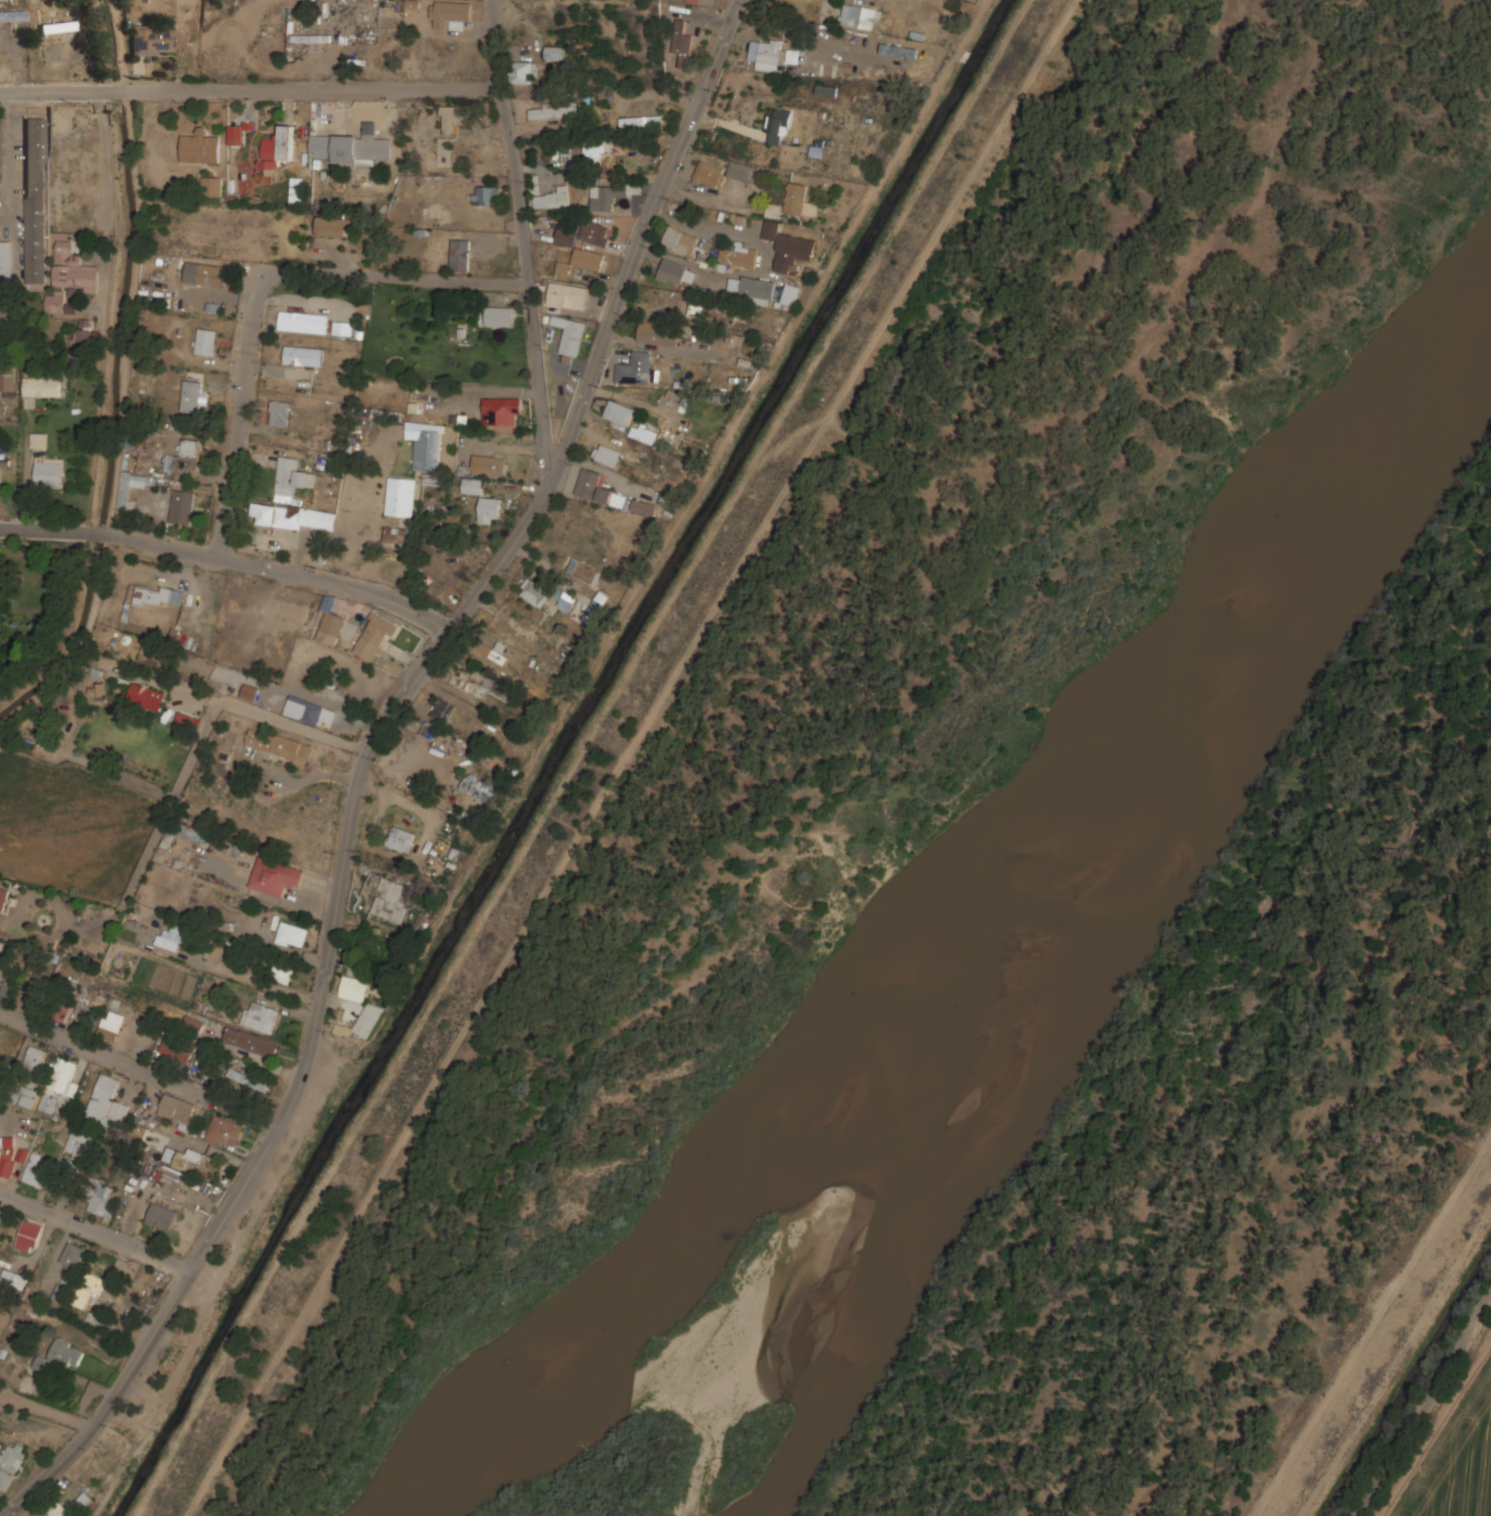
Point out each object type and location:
building: (412, 4)
building: (449, 12)
building: (860, 15)
building: (3, 18)
building: (51, 31)
building: (309, 38)
building: (153, 40)
building: (682, 42)
building: (840, 43)
building: (555, 51)
building: (770, 53)
building: (793, 55)
building: (524, 71)
road: (252, 89)
building: (826, 90)
building: (554, 109)
building: (452, 119)
building: (640, 120)
building: (62, 121)
building: (779, 123)
building: (201, 146)
building: (278, 146)
building: (319, 146)
building: (361, 148)
building: (596, 148)
building: (818, 149)
road: (107, 158)
road: (7, 159)
building: (725, 172)
building: (213, 186)
building: (298, 189)
building: (34, 191)
building: (487, 194)
building: (607, 196)
building: (554, 197)
building: (799, 199)
building: (333, 227)
building: (586, 233)
building: (679, 240)
road: (524, 242)
building: (788, 245)
building: (460, 254)
building: (736, 254)
building: (587, 259)
building: (5, 261)
building: (563, 267)
building: (72, 268)
building: (675, 271)
building: (208, 273)
road: (398, 276)
building: (751, 287)
building: (791, 294)
building: (573, 295)
building: (54, 302)
building: (498, 315)
building: (303, 322)
building: (85, 329)
building: (658, 332)
building: (570, 335)
building: (206, 341)
building: (303, 355)
building: (634, 367)
building: (8, 382)
building: (42, 386)
building: (193, 396)
building: (672, 398)
building: (415, 407)
building: (502, 410)
road: (240, 411)
building: (279, 412)
building: (619, 412)
building: (459, 419)
building: (644, 433)
building: (38, 439)
building: (426, 443)
building: (606, 454)
building: (184, 457)
building: (488, 464)
building: (49, 472)
building: (291, 478)
building: (471, 485)
building: (598, 488)
building: (401, 496)
building: (123, 497)
building: (182, 506)
building: (644, 506)
building: (488, 509)
building: (294, 516)
building: (395, 534)
road: (231, 558)
building: (584, 570)
building: (534, 592)
building: (158, 595)
building: (564, 601)
building: (328, 603)
building: (596, 607)
building: (291, 610)
building: (331, 627)
building: (375, 635)
building: (493, 651)
building: (462, 678)
building: (96, 690)
building: (249, 691)
building: (146, 695)
building: (305, 709)
building: (442, 709)
building: (185, 726)
building: (430, 730)
road: (773, 732)
building: (277, 745)
road: (363, 762)
road: (184, 769)
building: (480, 788)
building: (198, 836)
building: (400, 839)
building: (274, 876)
building: (2, 896)
building: (391, 901)
river: (1071, 909)
building: (291, 935)
building: (172, 937)
building: (282, 972)
building: (34, 989)
building: (7, 990)
building: (60, 1011)
building: (260, 1016)
building: (368, 1019)
building: (193, 1024)
building: (111, 1025)
building: (342, 1030)
road: (1205, 1032)
building: (251, 1041)
building: (176, 1052)
building: (35, 1058)
road: (141, 1067)
building: (64, 1077)
building: (247, 1079)
building: (29, 1097)
building: (106, 1103)
building: (47, 1105)
building: (177, 1108)
building: (138, 1130)
building: (224, 1131)
building: (78, 1143)
building: (21, 1155)
building: (6, 1156)
building: (197, 1160)
road: (1268, 1166)
building: (37, 1169)
building: (98, 1197)
building: (0, 1211)
building: (164, 1218)
road: (96, 1229)
building: (29, 1235)
building: (72, 1256)
building: (13, 1279)
building: (88, 1290)
building: (59, 1291)
building: (87, 1315)
road: (1373, 1327)
building: (59, 1357)
road: (1426, 1405)
building: (10, 1463)
crop: (1459, 1464)
building: (84, 1500)
building: (56, 1509)

